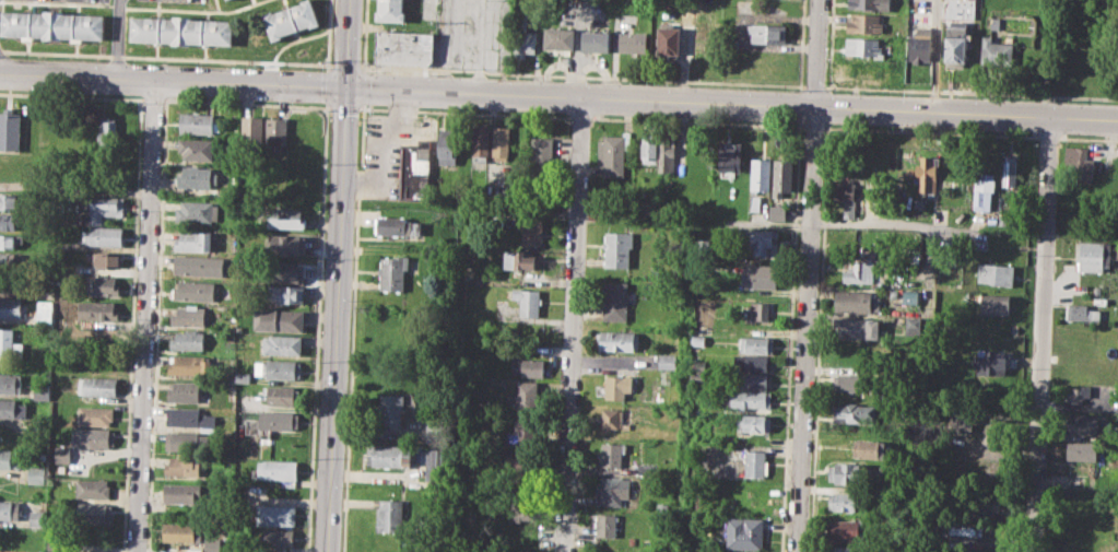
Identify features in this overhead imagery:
building: (228, 0)
building: (673, 3)
building: (869, 4)
building: (969, 7)
road: (235, 9)
building: (389, 10)
building: (293, 21)
building: (866, 22)
building: (995, 23)
building: (54, 27)
building: (767, 32)
building: (184, 33)
road: (328, 35)
building: (522, 37)
building: (558, 38)
road: (117, 39)
road: (295, 39)
building: (956, 40)
building: (596, 42)
building: (632, 42)
building: (669, 42)
road: (346, 44)
building: (918, 45)
building: (404, 47)
building: (864, 48)
building: (997, 50)
road: (816, 54)
road: (165, 57)
road: (344, 64)
road: (362, 67)
building: (866, 70)
road: (551, 75)
road: (173, 82)
road: (326, 84)
road: (815, 86)
road: (361, 87)
traffic signals: (346, 89)
road: (972, 92)
road: (731, 104)
road: (325, 106)
road: (344, 106)
road: (462, 111)
road: (580, 116)
road: (696, 120)
building: (198, 122)
road: (812, 126)
building: (10, 128)
building: (251, 129)
building: (275, 129)
road: (930, 131)
building: (107, 136)
road: (1047, 136)
road: (1087, 138)
building: (501, 142)
building: (480, 143)
building: (448, 145)
parking lot: (388, 148)
building: (648, 148)
building: (197, 149)
building: (613, 152)
building: (666, 154)
building: (541, 156)
building: (729, 157)
building: (1079, 164)
building: (414, 171)
building: (1009, 171)
building: (760, 174)
building: (197, 176)
building: (927, 176)
building: (781, 177)
building: (984, 191)
building: (845, 196)
building: (13, 200)
building: (755, 202)
building: (105, 207)
building: (197, 211)
building: (776, 212)
building: (286, 218)
building: (13, 222)
road: (893, 222)
building: (396, 225)
building: (531, 231)
building: (103, 235)
building: (193, 240)
building: (12, 242)
building: (761, 242)
building: (289, 244)
building: (857, 244)
building: (617, 248)
building: (1093, 255)
building: (8, 258)
building: (108, 258)
building: (519, 259)
building: (198, 265)
building: (284, 271)
building: (392, 271)
building: (856, 271)
building: (995, 273)
building: (758, 275)
building: (12, 281)
building: (102, 285)
building: (196, 290)
building: (285, 293)
building: (909, 296)
building: (528, 301)
building: (615, 301)
building: (855, 302)
building: (995, 304)
building: (12, 307)
building: (761, 309)
building: (96, 310)
building: (43, 312)
building: (1081, 312)
building: (189, 316)
road: (145, 317)
building: (279, 319)
road: (336, 319)
road: (574, 325)
building: (911, 325)
road: (803, 329)
building: (856, 329)
road: (1040, 334)
building: (697, 339)
building: (187, 340)
building: (619, 340)
building: (281, 344)
building: (755, 344)
building: (9, 347)
building: (668, 361)
building: (990, 362)
building: (753, 363)
building: (187, 364)
building: (532, 367)
building: (278, 369)
building: (243, 377)
building: (755, 380)
building: (10, 381)
building: (849, 381)
building: (97, 386)
building: (616, 386)
building: (40, 391)
building: (183, 391)
building: (280, 394)
building: (1081, 394)
building: (527, 395)
building: (750, 399)
building: (8, 408)
building: (391, 410)
building: (852, 413)
building: (961, 414)
building: (95, 415)
building: (189, 418)
building: (614, 419)
building: (276, 420)
building: (754, 422)
building: (1083, 423)
building: (522, 431)
building: (91, 437)
building: (186, 442)
building: (870, 448)
building: (1082, 450)
building: (612, 453)
building: (60, 454)
building: (389, 455)
building: (9, 457)
building: (431, 462)
building: (756, 463)
building: (183, 466)
building: (276, 471)
building: (847, 472)
building: (35, 474)
building: (1078, 480)
building: (92, 488)
building: (612, 490)
building: (181, 493)
building: (846, 501)
building: (989, 503)
building: (9, 507)
building: (520, 512)
building: (92, 513)
building: (274, 514)
building: (389, 516)
building: (34, 517)
building: (607, 525)
building: (845, 530)
building: (179, 531)
building: (745, 533)
building: (273, 537)
building: (211, 543)
building: (842, 549)

